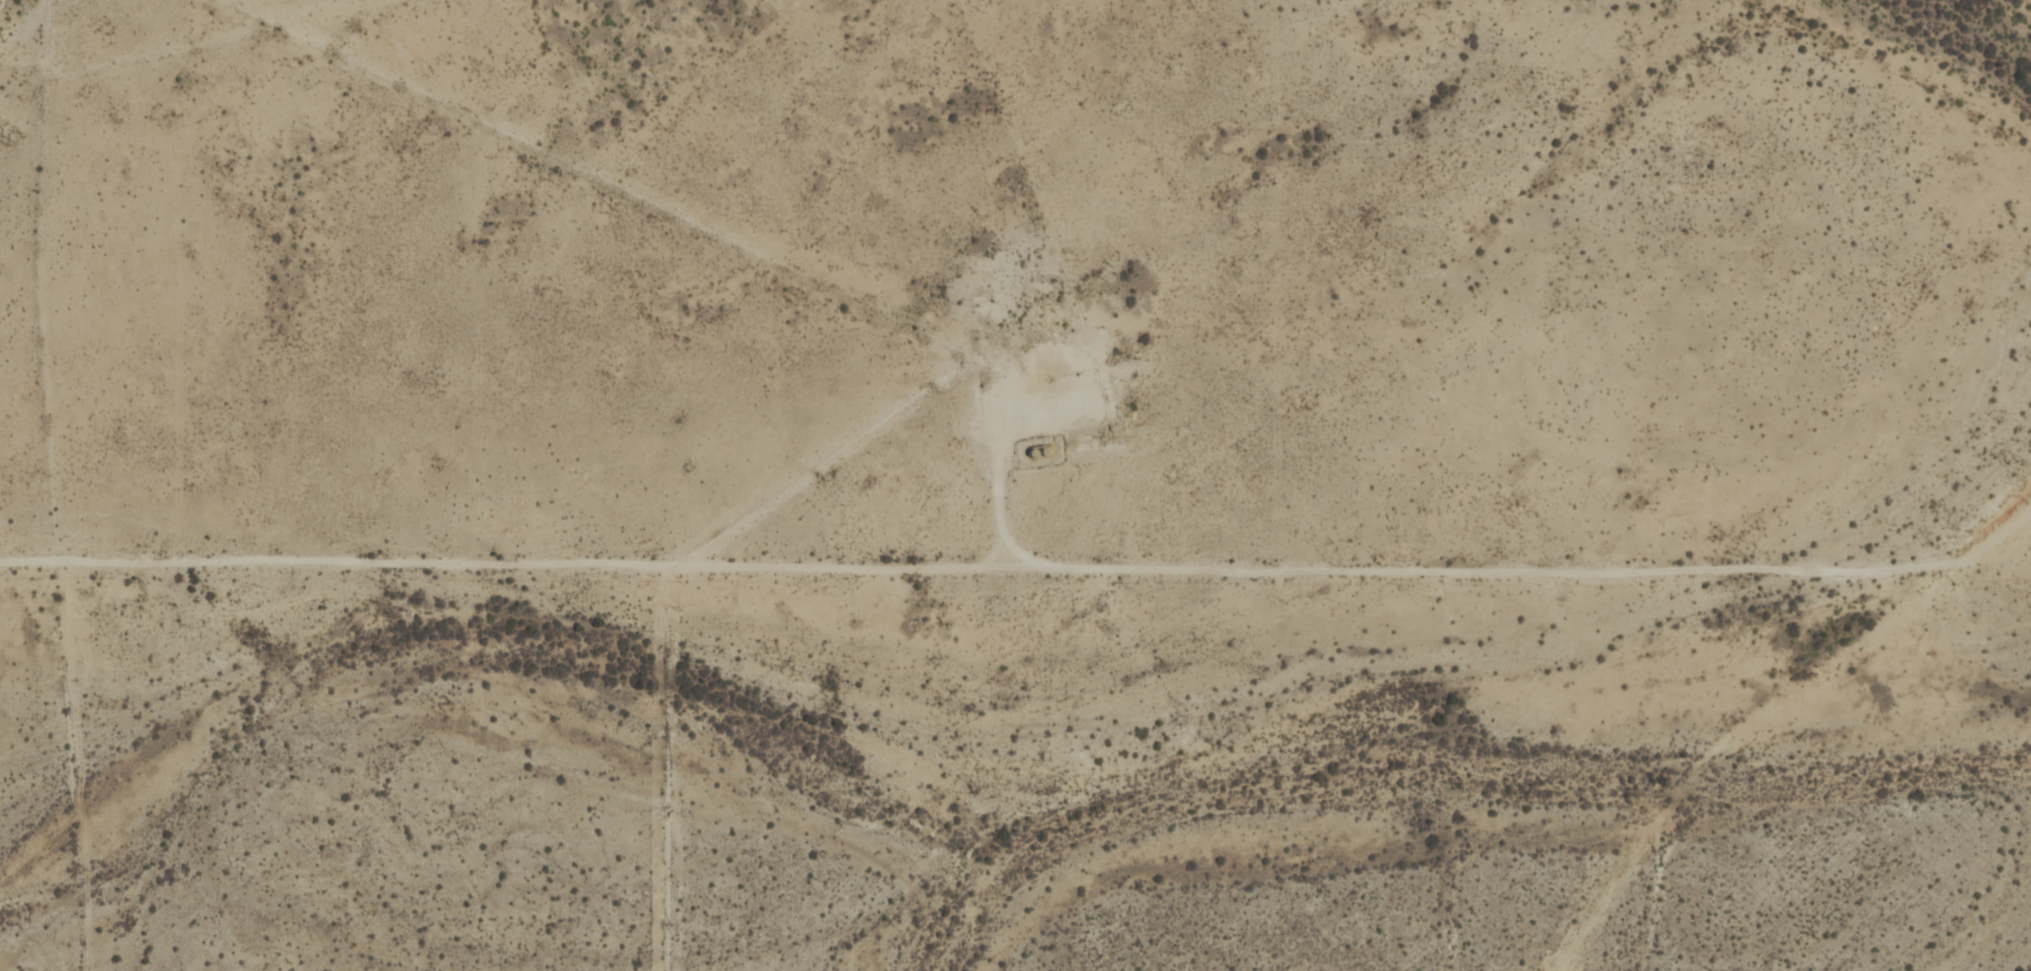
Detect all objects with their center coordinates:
road: (1000, 468)
road: (1023, 566)
road: (1735, 734)
park: (1337, 762)

